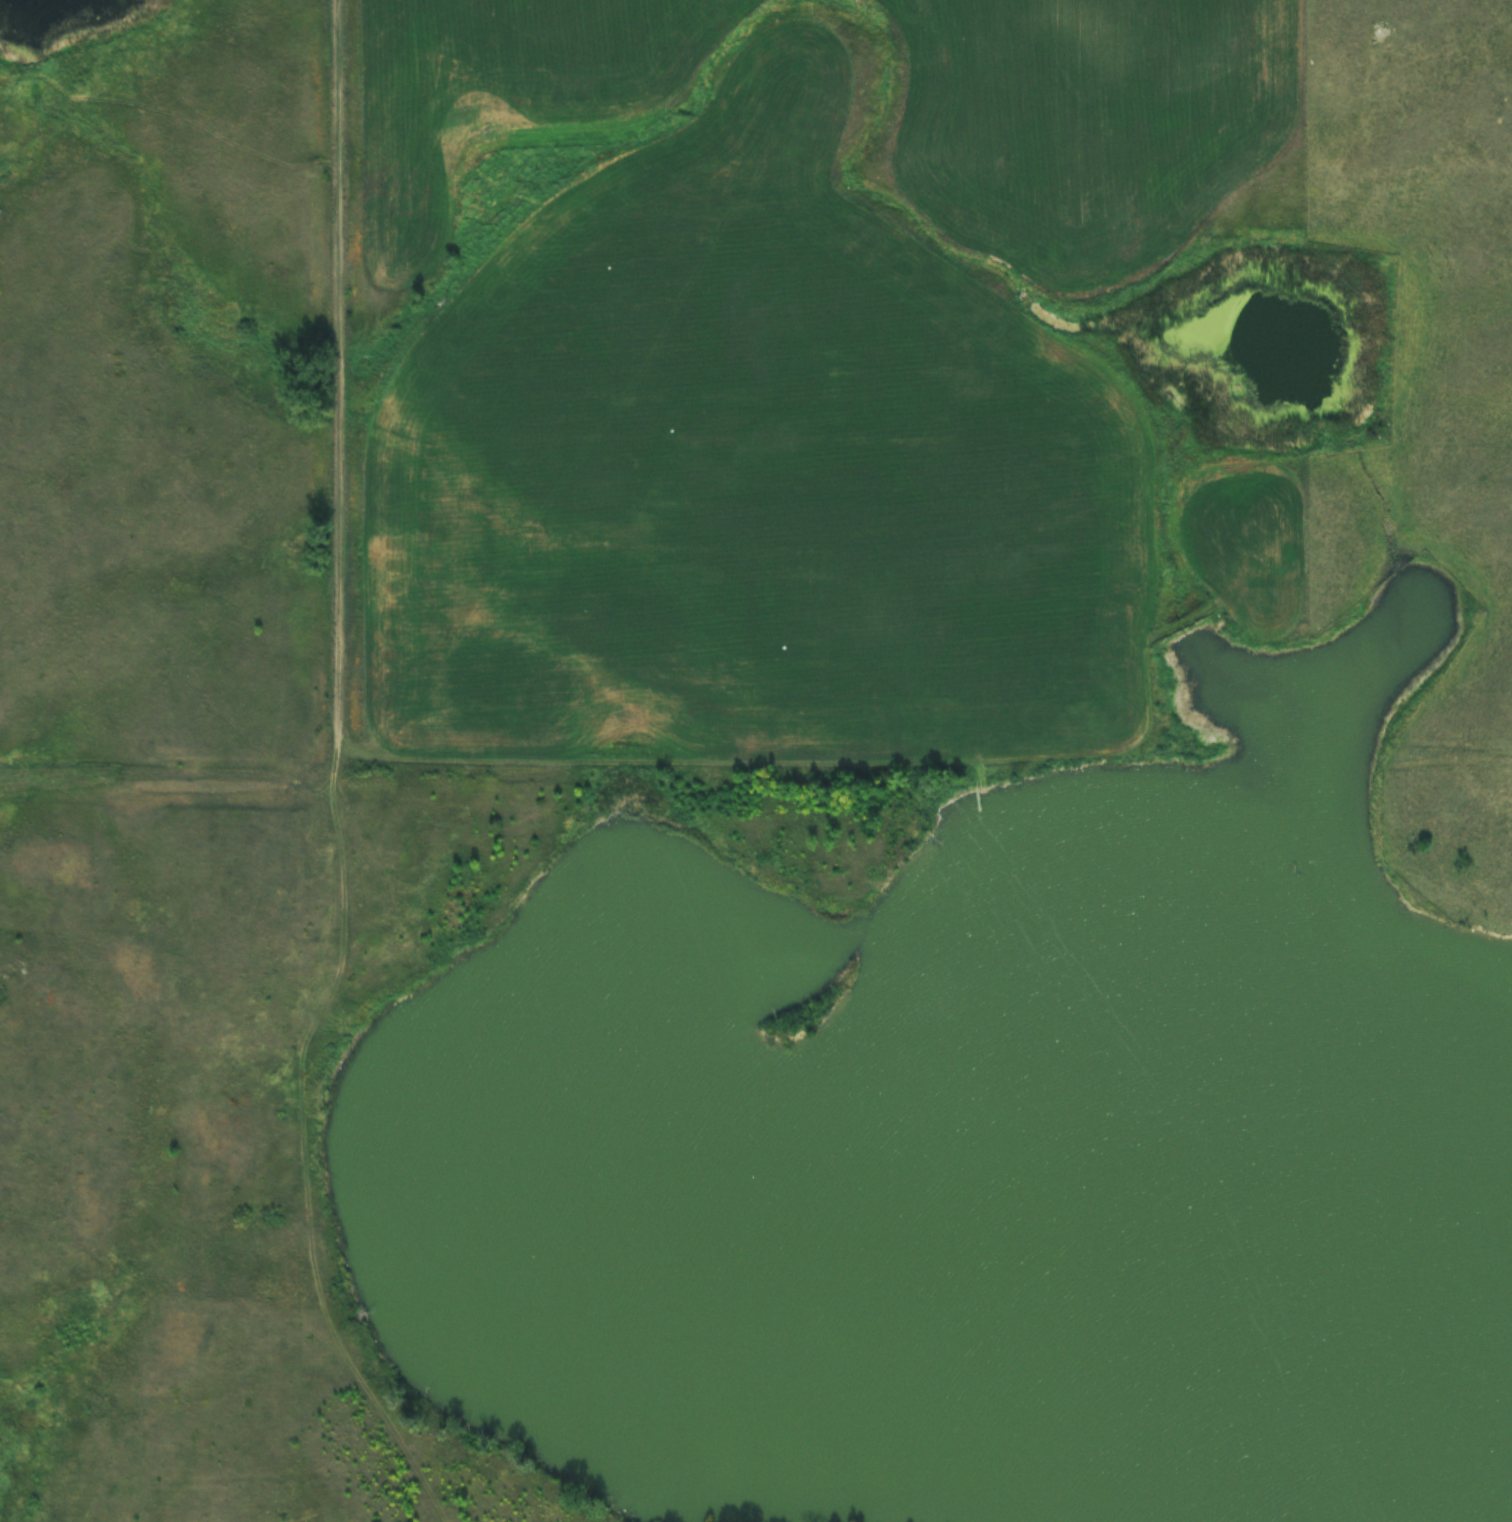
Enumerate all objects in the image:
road: (924, 756)
road: (335, 779)

